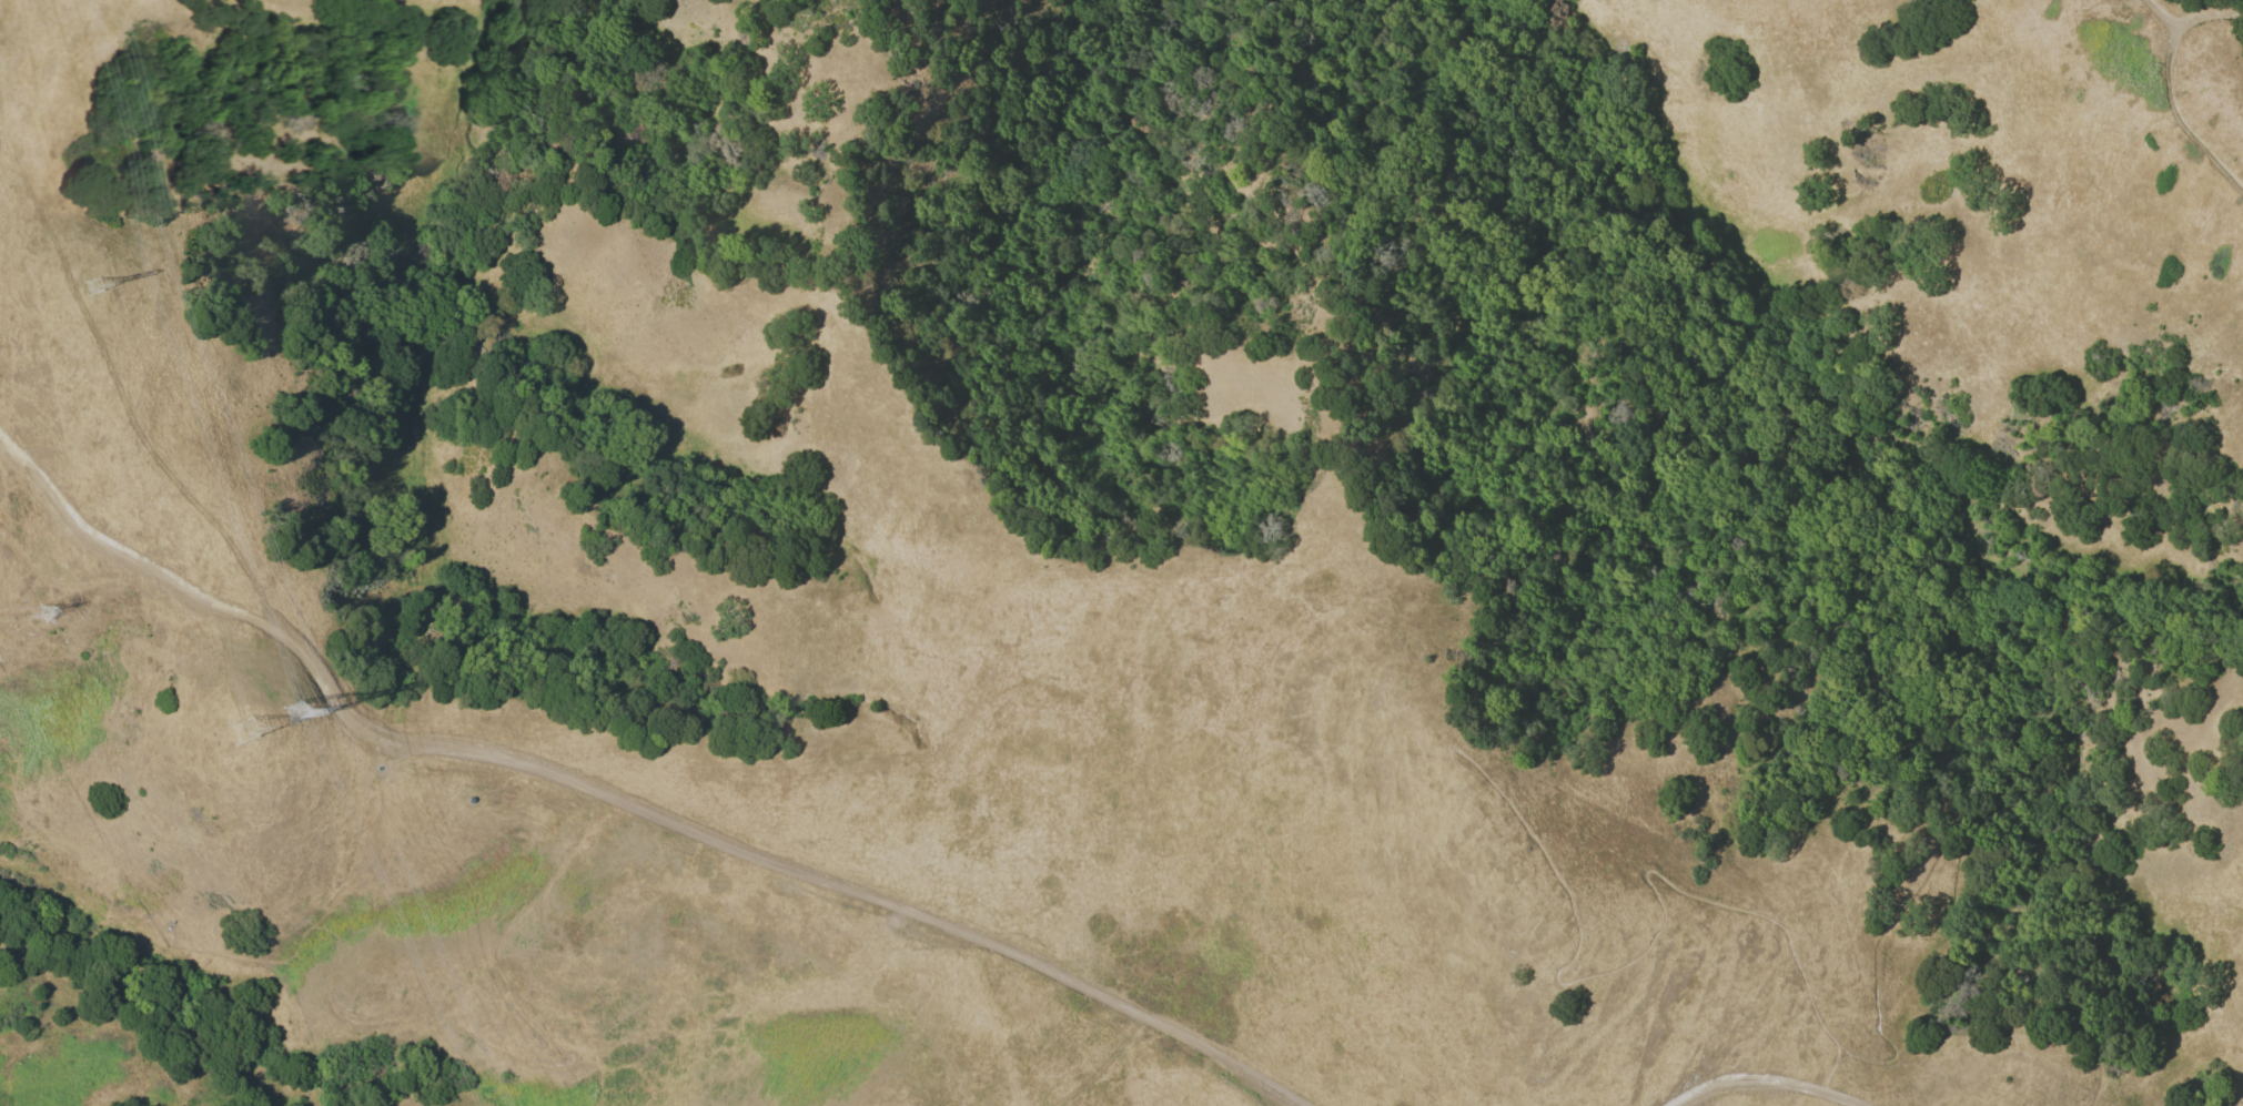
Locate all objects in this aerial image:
road: (2152, 17)
road: (2165, 87)
power tower: (97, 292)
power tower: (40, 613)
road: (2012, 682)
power tower: (292, 712)
power tower: (241, 730)
road: (622, 805)
road: (1627, 961)
road: (385, 1015)
road: (1760, 1080)

